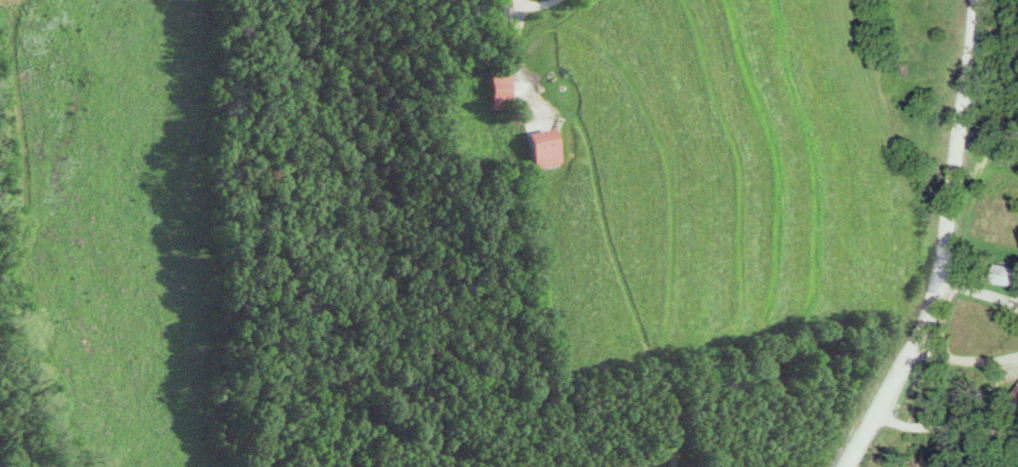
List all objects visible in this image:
building: (492, 88)
building: (532, 149)
road: (947, 243)
building: (999, 276)
road: (979, 294)
road: (963, 360)

